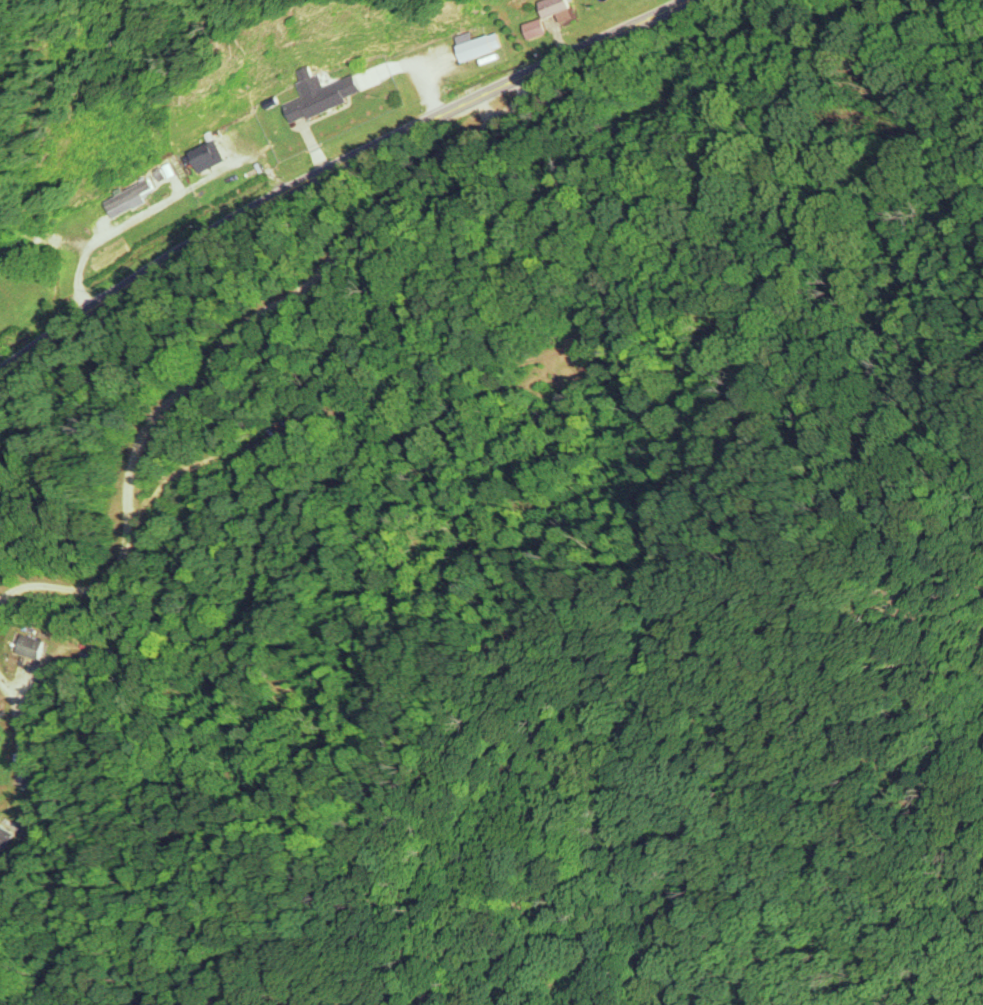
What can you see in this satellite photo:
building: (555, 7)
building: (537, 29)
building: (480, 47)
building: (321, 96)
building: (227, 143)
building: (206, 155)
road: (323, 191)
building: (129, 196)
road: (512, 371)
building: (32, 647)
building: (5, 835)

